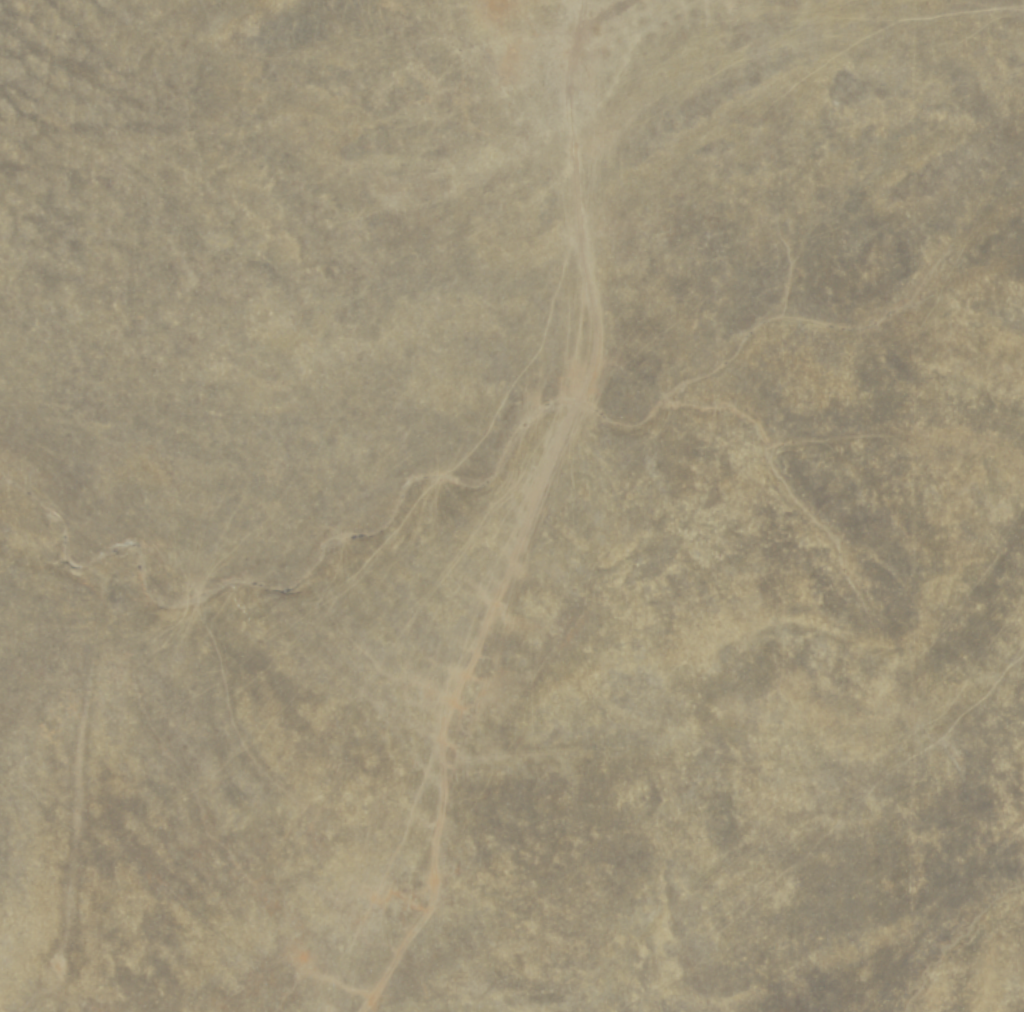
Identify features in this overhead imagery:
road: (536, 516)

